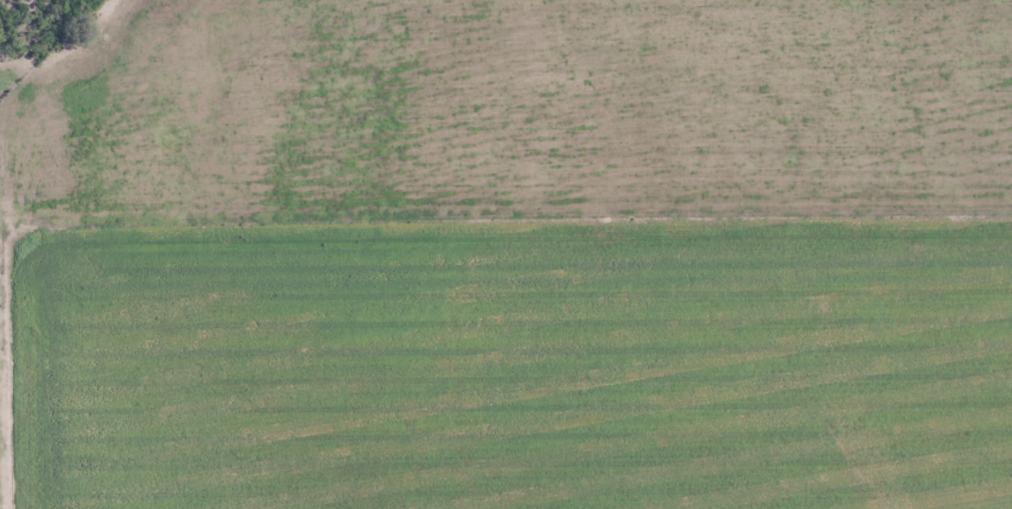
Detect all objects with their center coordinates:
road: (503, 253)

